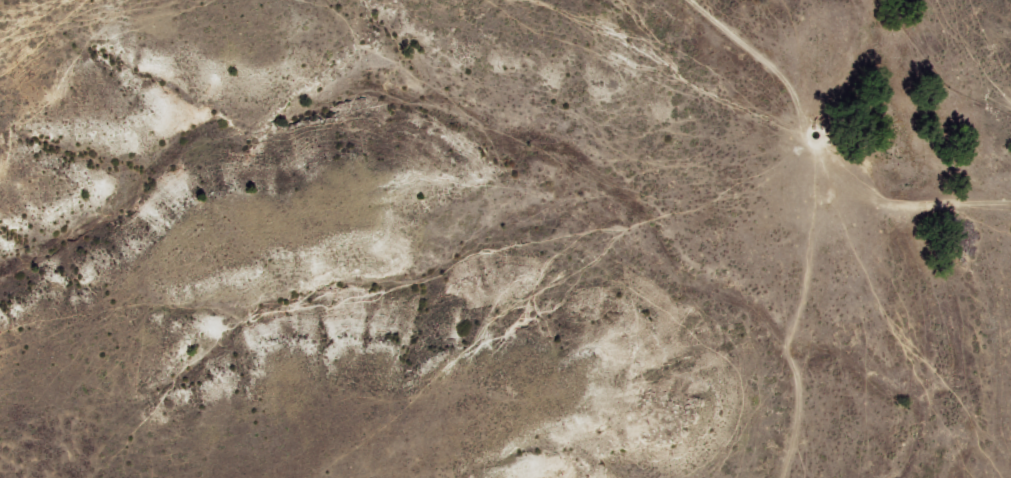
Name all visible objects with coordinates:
road: (848, 133)

